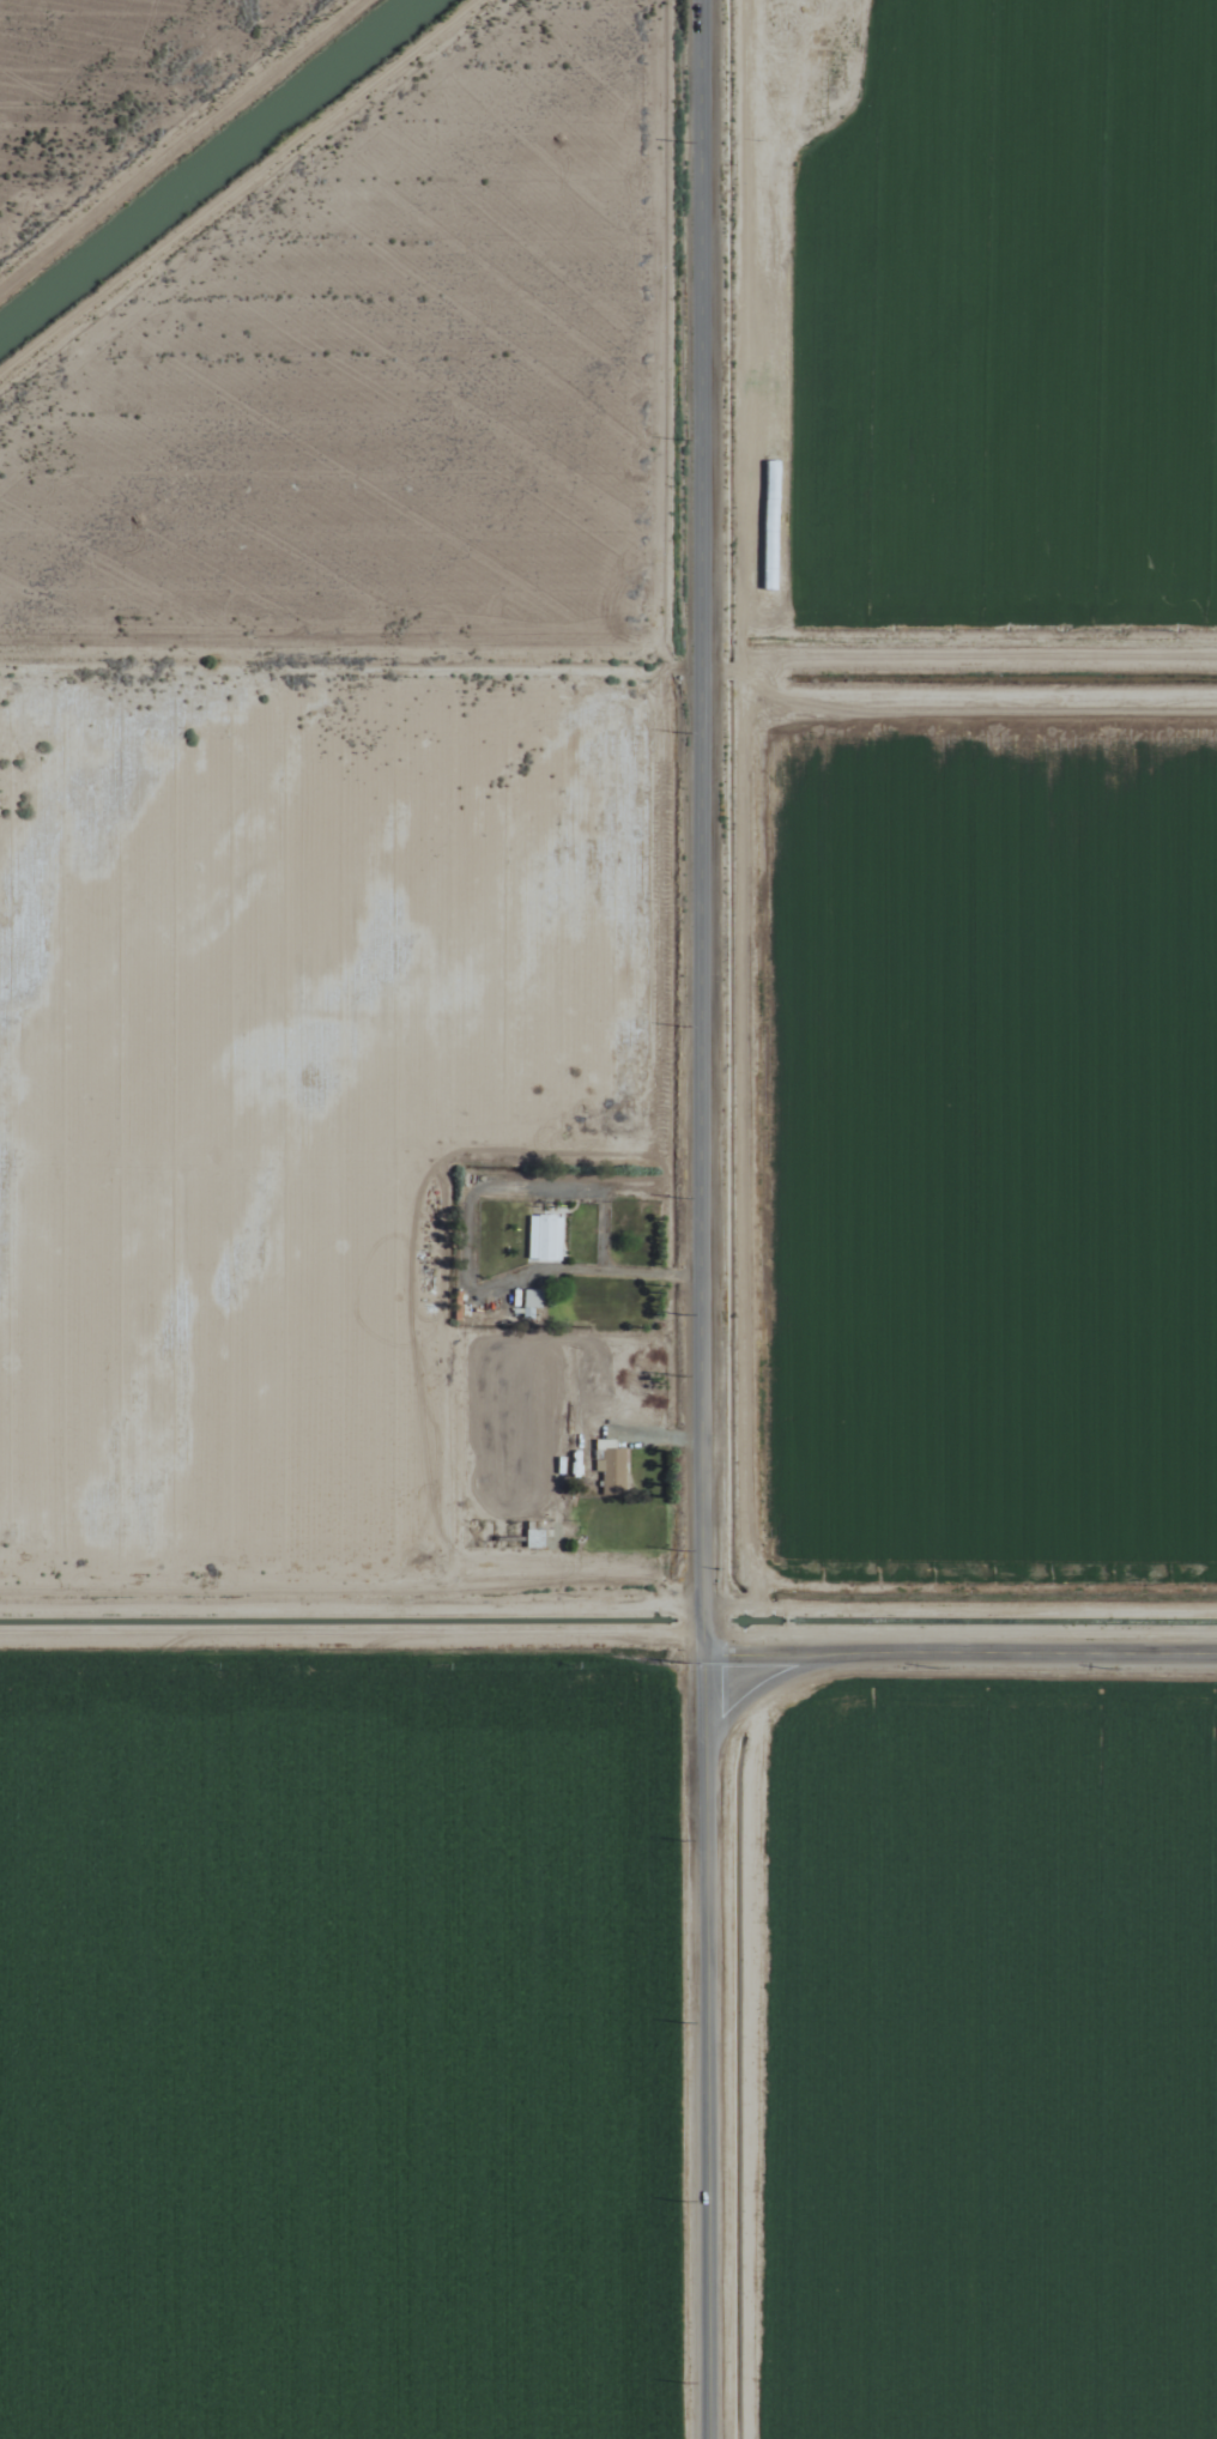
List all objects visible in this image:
road: (727, 1218)
crop: (329, 1225)
building: (541, 1239)
building: (528, 1300)
building: (606, 1466)
building: (531, 1538)
road: (976, 1706)

